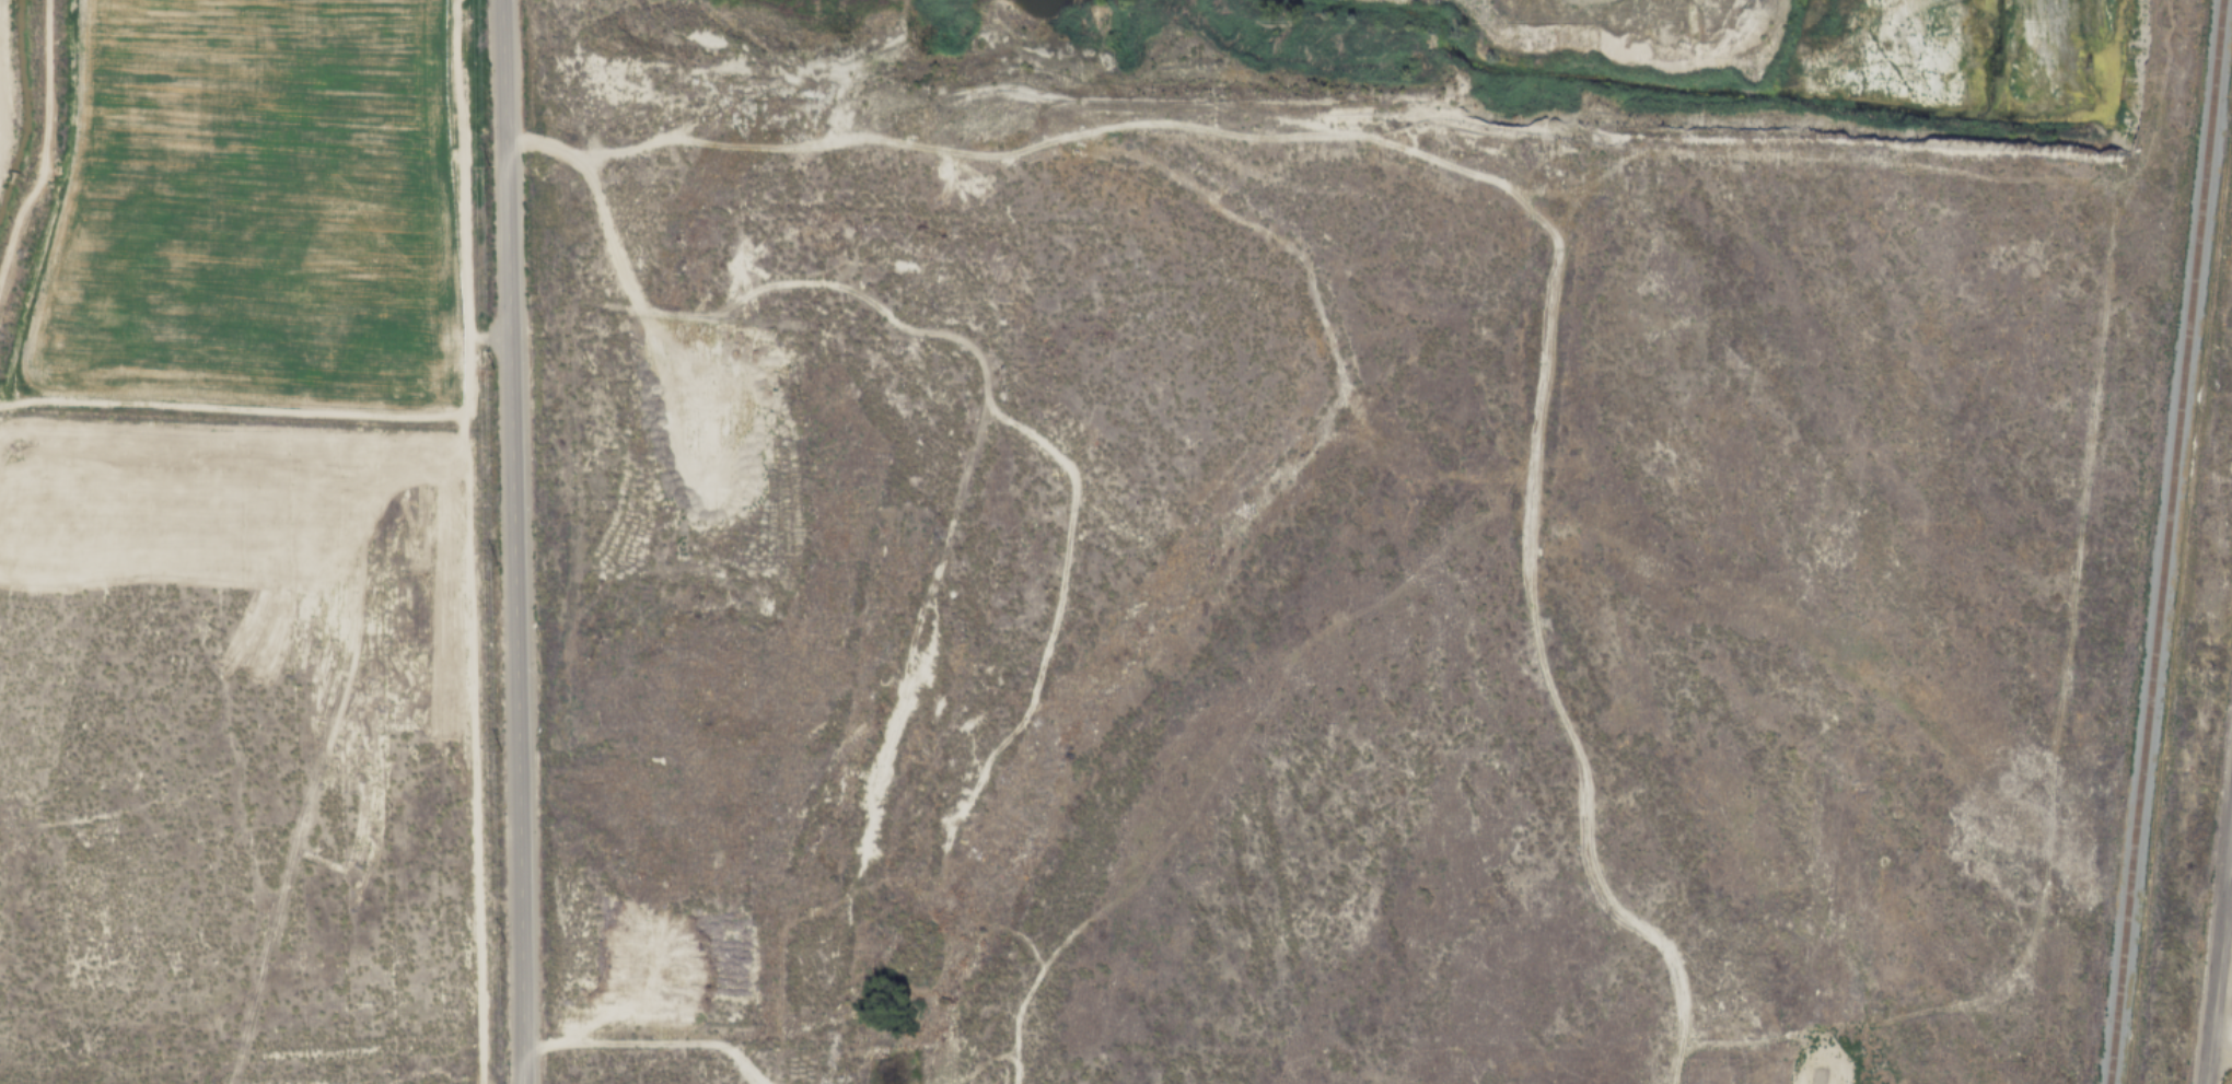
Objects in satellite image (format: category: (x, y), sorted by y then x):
road: (2, 67)
road: (1888, 69)
quarry: (1533, 71)
road: (42, 142)
road: (1446, 170)
road: (67, 235)
road: (1038, 443)
road: (406, 445)
road: (671, 457)
road: (463, 541)
road: (511, 541)
railway: (2164, 541)
road: (2060, 697)
road: (2217, 955)
road: (650, 1044)
road: (2219, 1056)
airport runway: (1821, 1077)

